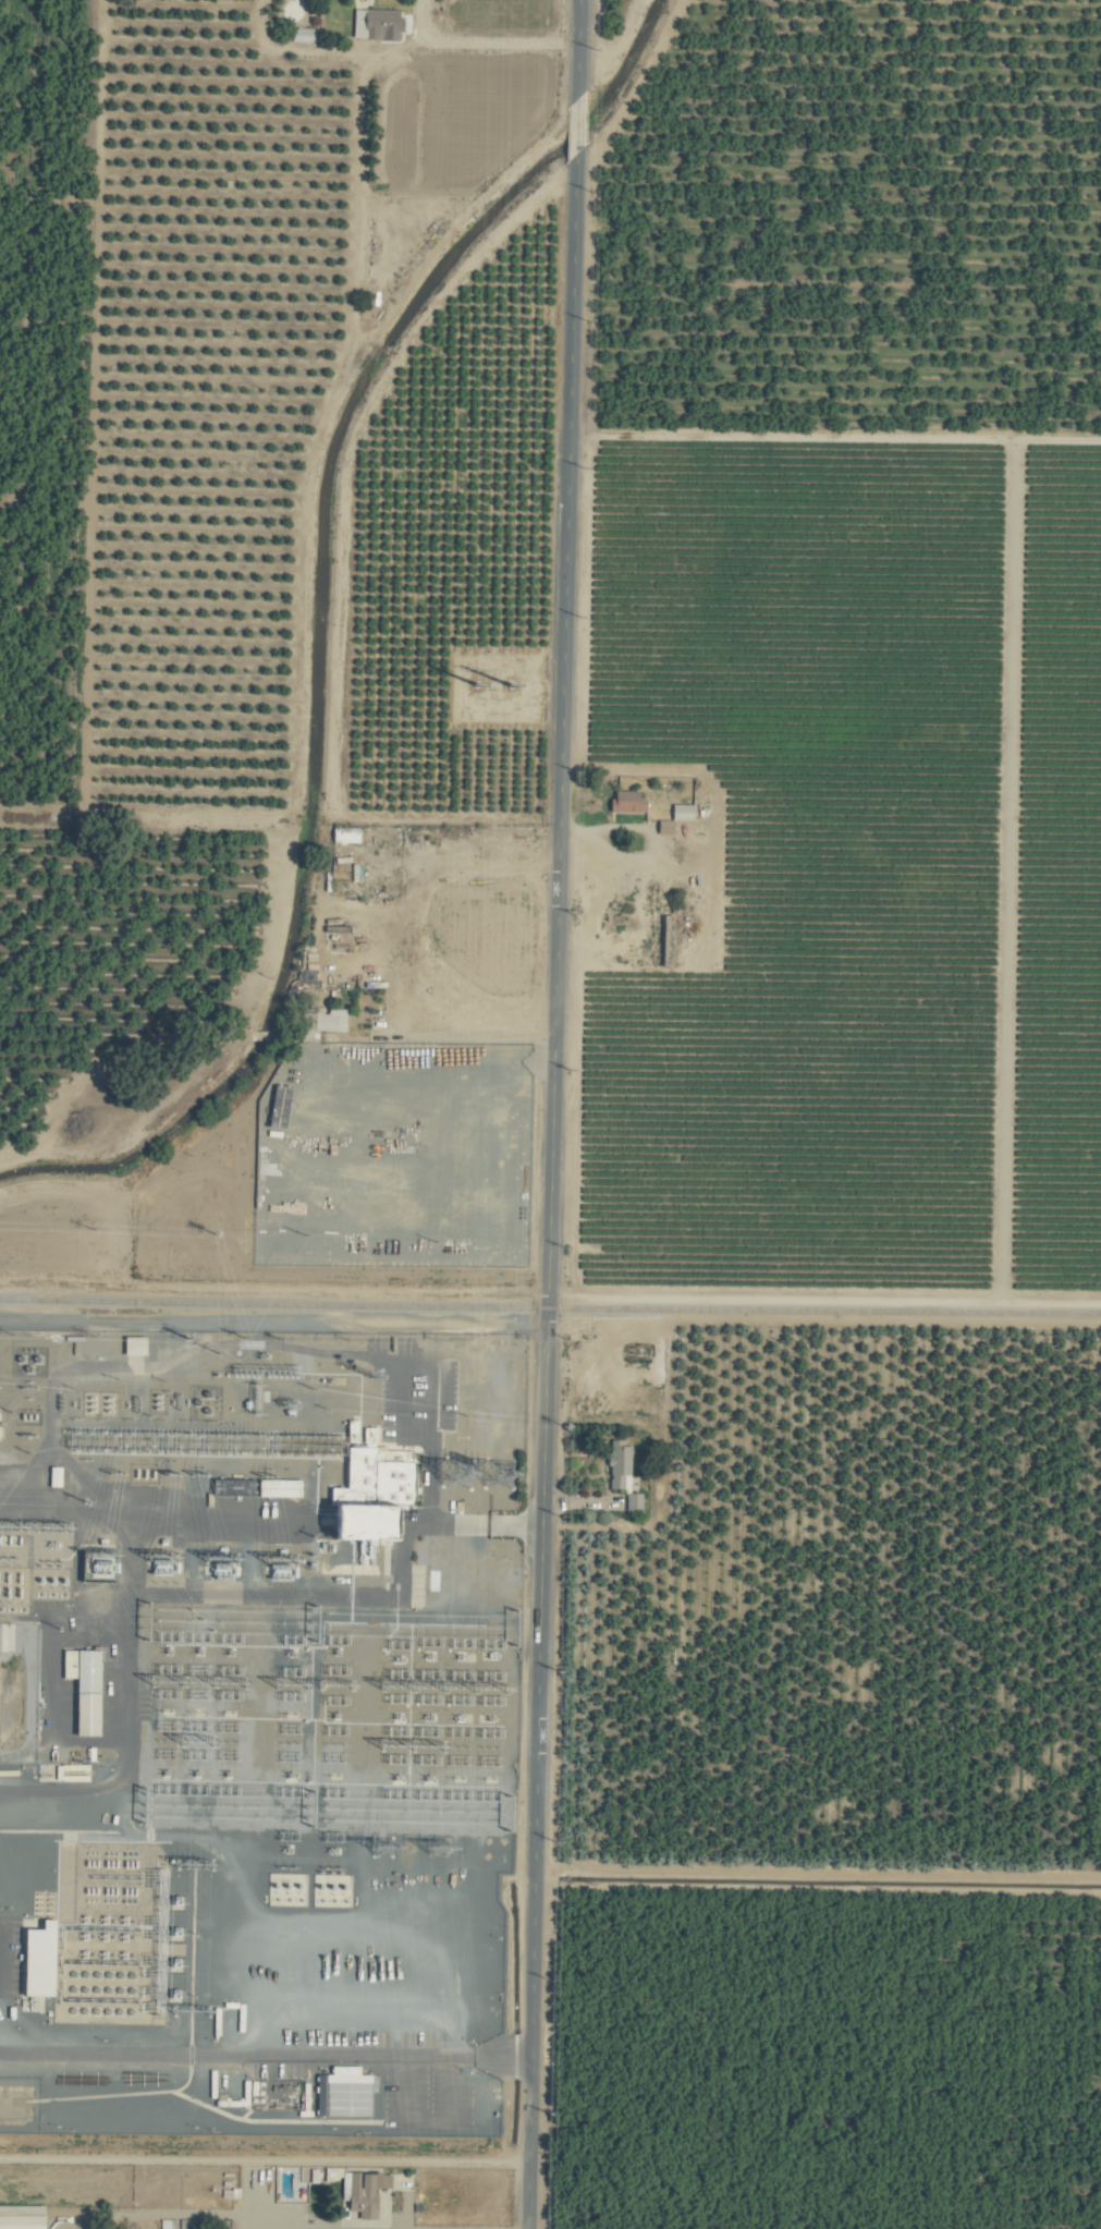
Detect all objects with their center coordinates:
road: (416, 20)
building: (378, 24)
road: (395, 44)
road: (575, 49)
road: (574, 126)
road: (563, 600)
building: (629, 802)
building: (684, 813)
building: (668, 828)
building: (347, 836)
building: (331, 1020)
road: (438, 1040)
crop: (550, 1114)
crop: (321, 1172)
road: (549, 1179)
railway: (550, 1308)
building: (621, 1463)
road: (541, 1467)
power tower: (455, 1473)
power tower: (497, 1473)
building: (56, 1476)
building: (378, 1495)
building: (635, 1503)
road: (475, 1524)
building: (88, 1688)
power substation: (255, 1730)
power tower: (381, 1848)
power tower: (437, 1850)
road: (531, 1928)
building: (45, 1960)
road: (400, 2018)
building: (347, 2093)
building: (231, 2191)
building: (366, 2192)
building: (24, 2217)

